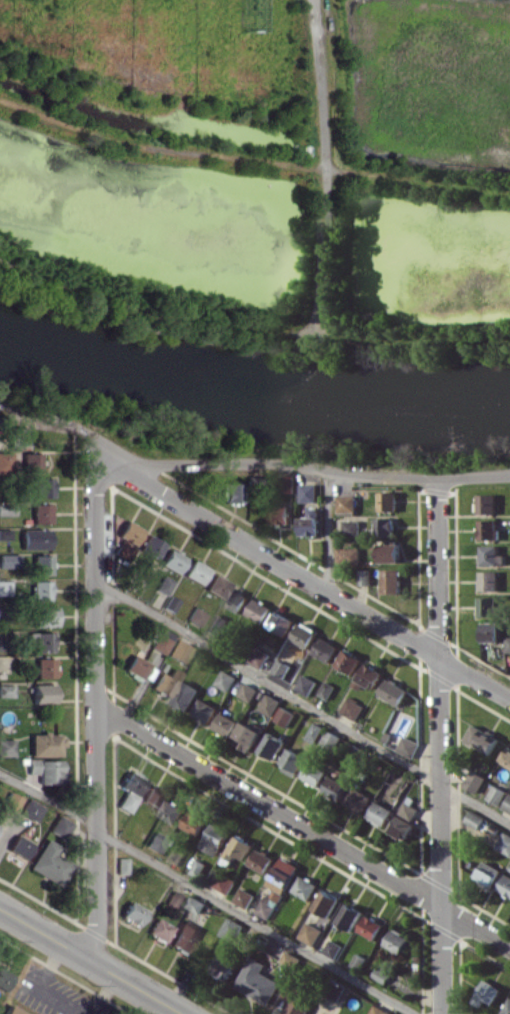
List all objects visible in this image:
building: (253, 14)
road: (320, 162)
road: (252, 167)
wastewater plant: (262, 173)
road: (250, 314)
river: (250, 398)
road: (64, 423)
building: (15, 436)
building: (4, 462)
building: (28, 462)
road: (314, 468)
building: (287, 483)
building: (40, 487)
building: (230, 492)
building: (309, 492)
building: (388, 501)
building: (487, 503)
building: (347, 504)
building: (6, 509)
building: (39, 513)
building: (281, 514)
building: (311, 522)
building: (385, 526)
building: (352, 527)
building: (488, 529)
building: (127, 532)
road: (331, 533)
building: (4, 534)
building: (33, 539)
building: (148, 546)
building: (121, 549)
building: (390, 551)
building: (349, 555)
building: (492, 555)
building: (8, 560)
building: (170, 560)
building: (39, 564)
building: (193, 571)
building: (365, 577)
building: (392, 580)
building: (489, 580)
road: (312, 583)
building: (162, 584)
building: (215, 586)
building: (37, 590)
building: (236, 600)
building: (490, 606)
building: (259, 610)
building: (43, 616)
building: (193, 616)
building: (282, 623)
building: (217, 628)
building: (491, 631)
building: (305, 634)
building: (39, 641)
building: (159, 641)
building: (508, 644)
building: (325, 649)
building: (176, 650)
building: (259, 657)
building: (349, 660)
building: (42, 667)
building: (137, 668)
building: (286, 670)
building: (368, 677)
building: (226, 679)
building: (162, 682)
building: (306, 685)
building: (5, 690)
building: (327, 690)
building: (394, 691)
building: (249, 692)
building: (40, 693)
building: (184, 695)
road: (300, 700)
building: (270, 704)
road: (93, 707)
building: (352, 708)
building: (205, 710)
building: (285, 716)
building: (226, 724)
building: (315, 732)
building: (248, 737)
building: (332, 739)
building: (482, 739)
building: (43, 744)
building: (272, 745)
building: (408, 746)
road: (440, 746)
building: (5, 747)
building: (506, 758)
building: (292, 761)
building: (45, 770)
building: (315, 774)
building: (475, 780)
building: (337, 788)
building: (127, 790)
building: (497, 794)
building: (151, 796)
building: (359, 799)
building: (9, 801)
building: (507, 805)
building: (29, 810)
building: (409, 810)
building: (172, 811)
building: (381, 813)
building: (475, 819)
building: (195, 823)
road: (301, 825)
building: (58, 826)
building: (402, 826)
building: (215, 839)
building: (154, 841)
building: (504, 843)
building: (17, 846)
building: (239, 848)
building: (262, 860)
building: (48, 863)
building: (119, 865)
building: (198, 868)
building: (487, 874)
building: (283, 875)
building: (225, 882)
building: (506, 885)
building: (306, 887)
road: (207, 893)
building: (245, 897)
building: (172, 900)
building: (327, 903)
building: (197, 904)
building: (267, 906)
building: (130, 912)
building: (349, 917)
building: (371, 927)
building: (157, 929)
building: (233, 930)
building: (311, 933)
building: (183, 936)
building: (397, 941)
building: (333, 948)
road: (90, 962)
building: (224, 967)
building: (381, 975)
building: (3, 979)
building: (258, 981)
building: (338, 990)
building: (487, 993)
building: (296, 1003)
building: (507, 1009)
building: (379, 1010)
building: (9, 1011)
building: (321, 1013)

